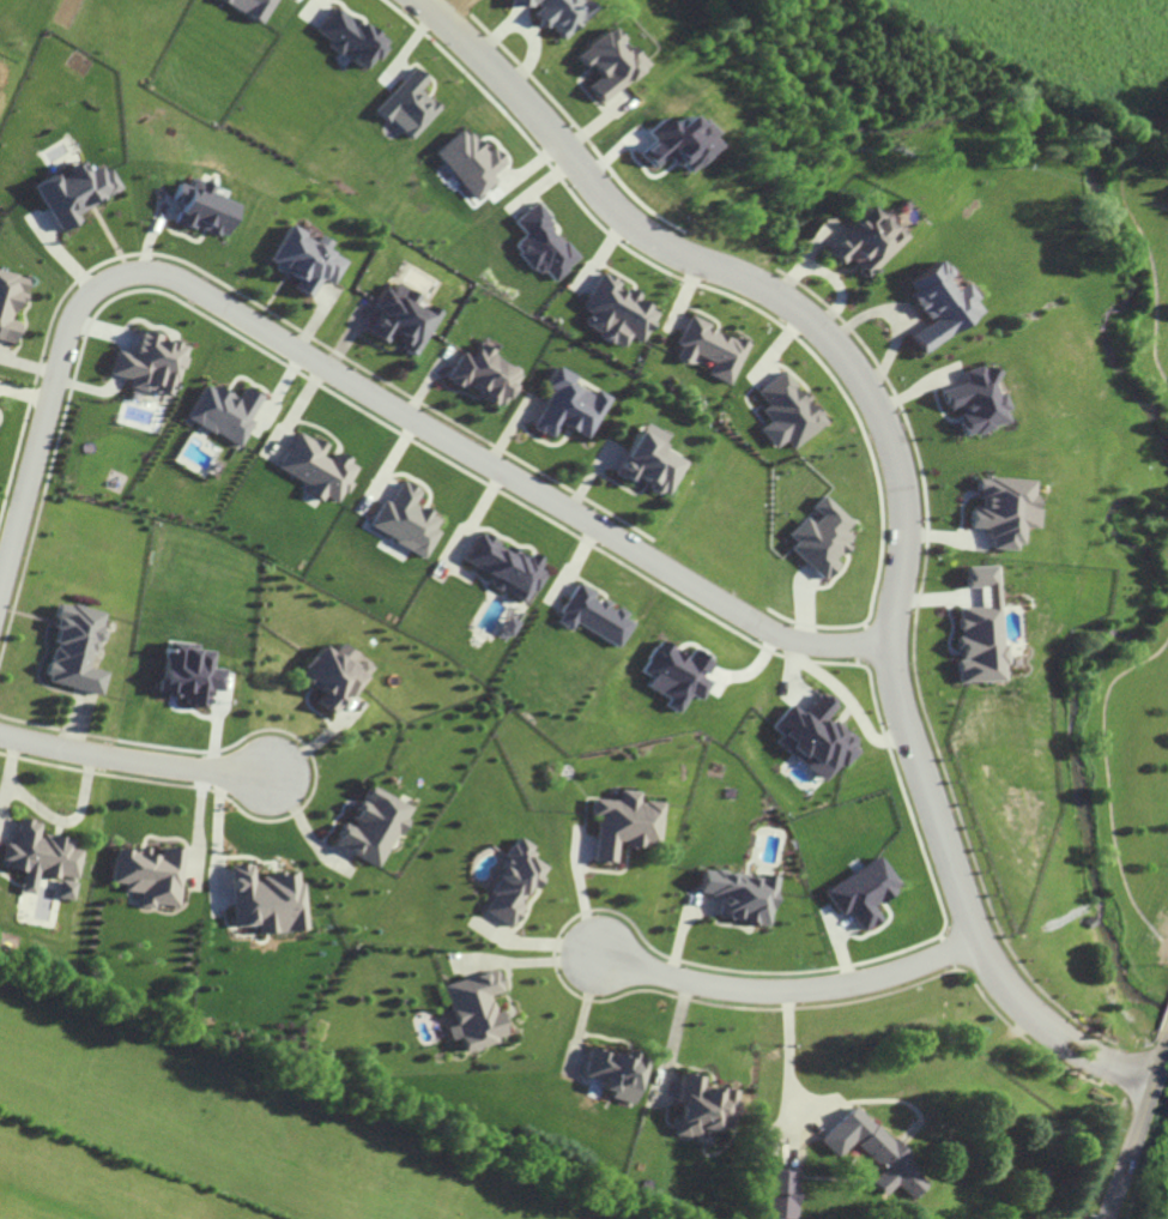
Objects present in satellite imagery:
building: (253, 7)
building: (555, 12)
building: (349, 37)
building: (606, 62)
building: (409, 104)
building: (676, 143)
building: (471, 162)
building: (74, 192)
building: (202, 207)
building: (865, 241)
building: (544, 243)
road: (1158, 249)
building: (304, 260)
road: (1154, 268)
building: (10, 302)
building: (938, 304)
building: (617, 312)
building: (401, 318)
building: (712, 349)
building: (150, 363)
building: (484, 374)
road: (351, 382)
building: (975, 400)
building: (567, 406)
building: (225, 412)
building: (788, 412)
road: (884, 422)
building: (648, 460)
building: (320, 467)
building: (1000, 509)
building: (407, 520)
building: (822, 537)
building: (506, 567)
building: (594, 616)
building: (978, 629)
building: (75, 647)
building: (192, 672)
building: (678, 674)
building: (335, 675)
building: (816, 737)
road: (134, 761)
road: (1110, 785)
road: (49, 814)
building: (627, 823)
building: (374, 827)
building: (43, 858)
building: (152, 874)
building: (514, 882)
building: (865, 892)
building: (743, 894)
building: (270, 900)
road: (794, 992)
building: (474, 1009)
road: (1100, 1050)
road: (793, 1060)
road: (1090, 1067)
building: (618, 1073)
building: (706, 1106)
road: (1136, 1135)
building: (876, 1152)
building: (782, 1194)

